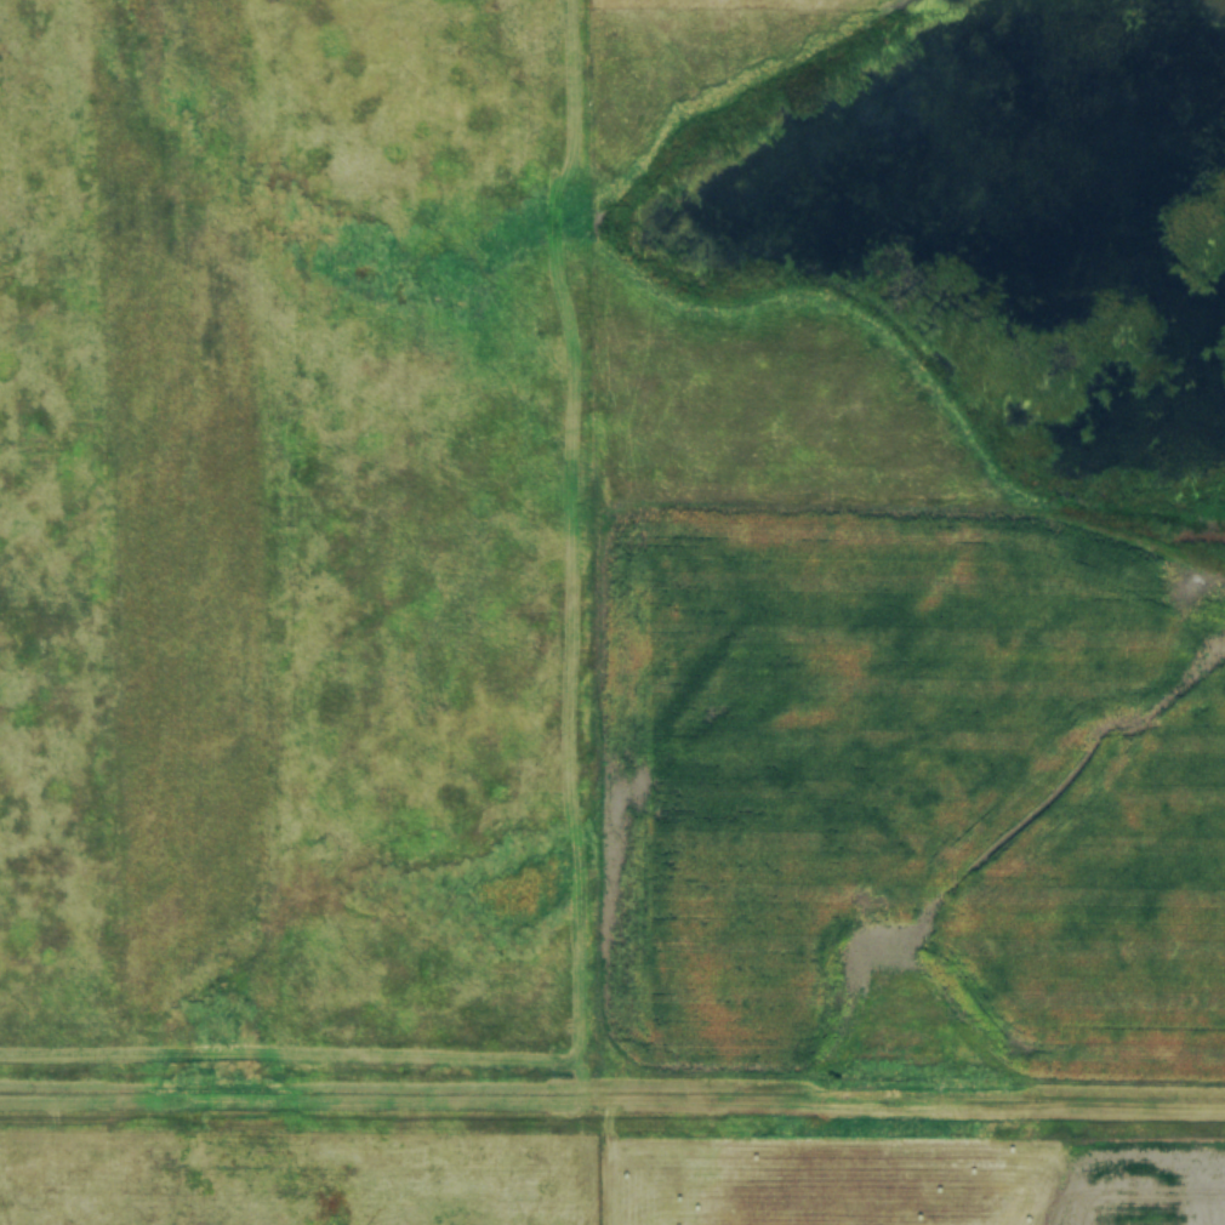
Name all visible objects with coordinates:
road: (612, 1093)

